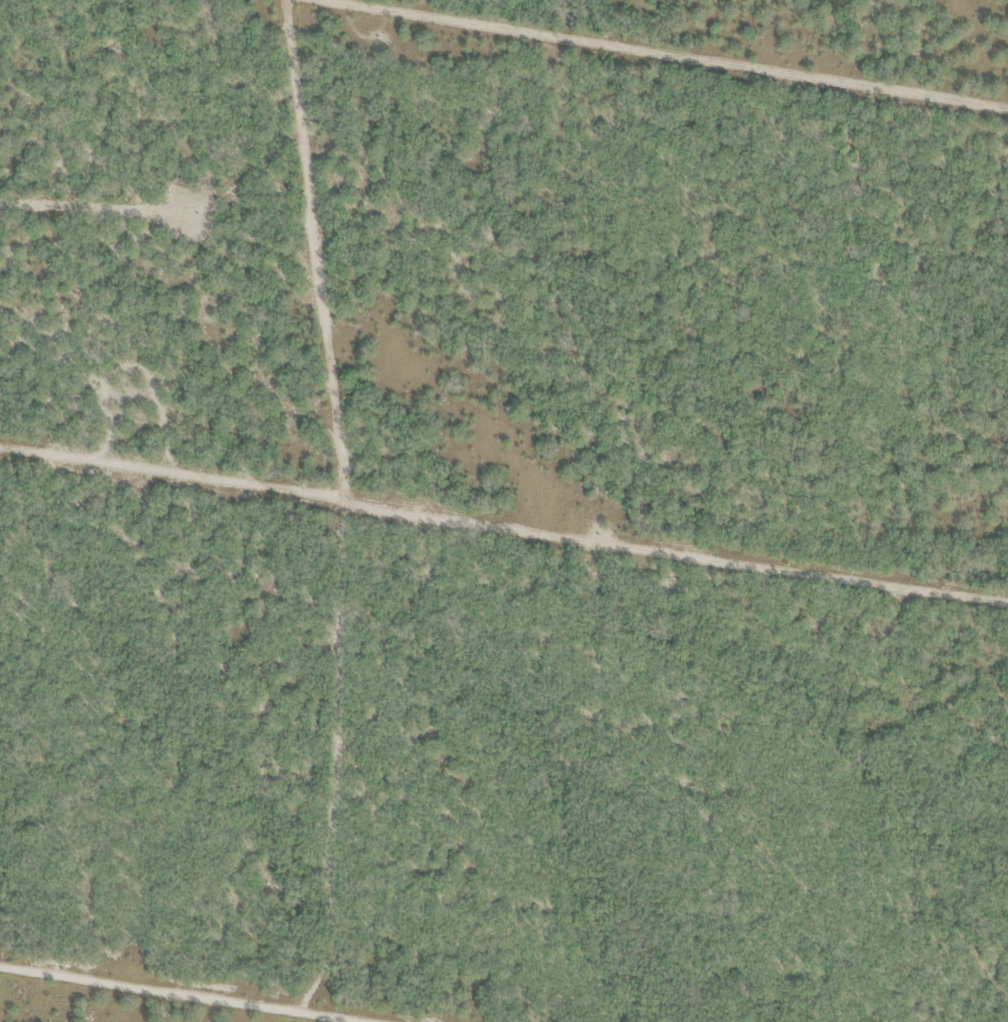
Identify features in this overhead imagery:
road: (279, 982)

